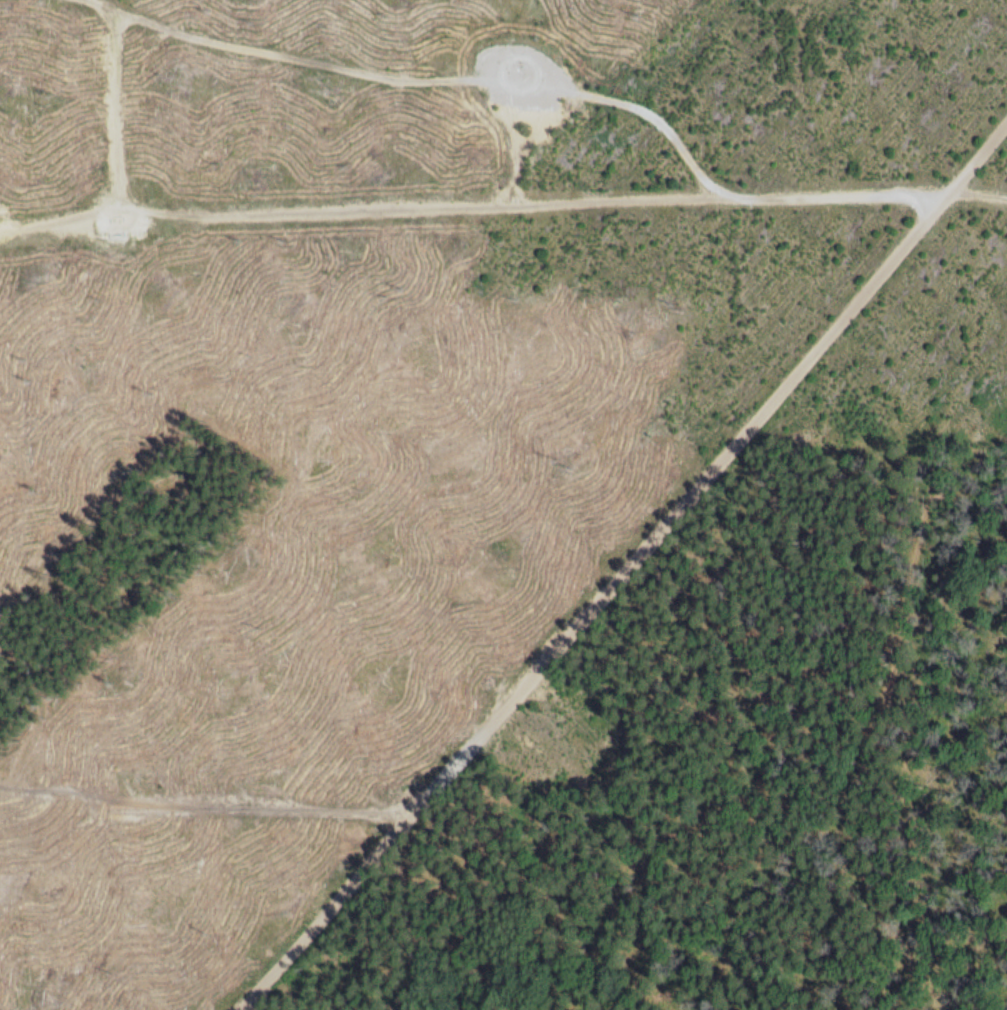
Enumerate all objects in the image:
road: (173, 27)
road: (99, 112)
road: (651, 134)
road: (351, 215)
road: (627, 571)

